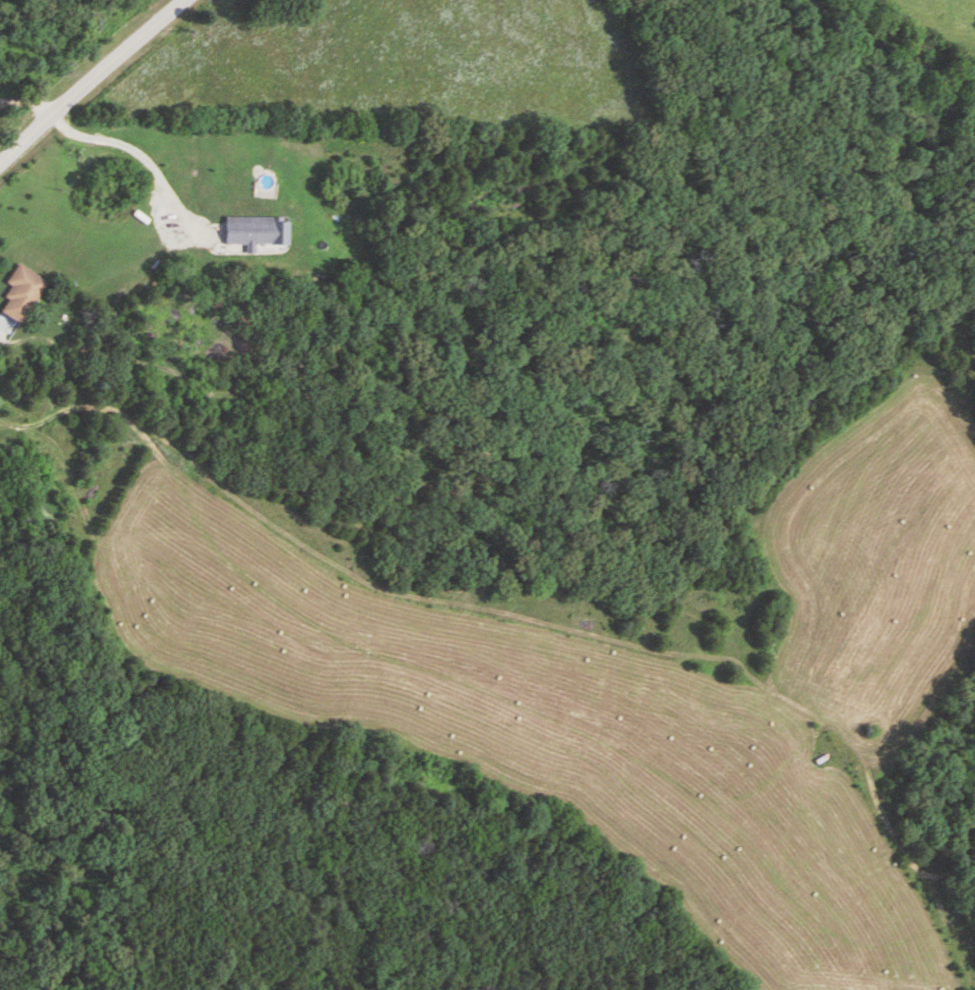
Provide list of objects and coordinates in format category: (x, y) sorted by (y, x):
road: (87, 77)
road: (25, 102)
road: (141, 152)
building: (249, 231)
building: (21, 292)

